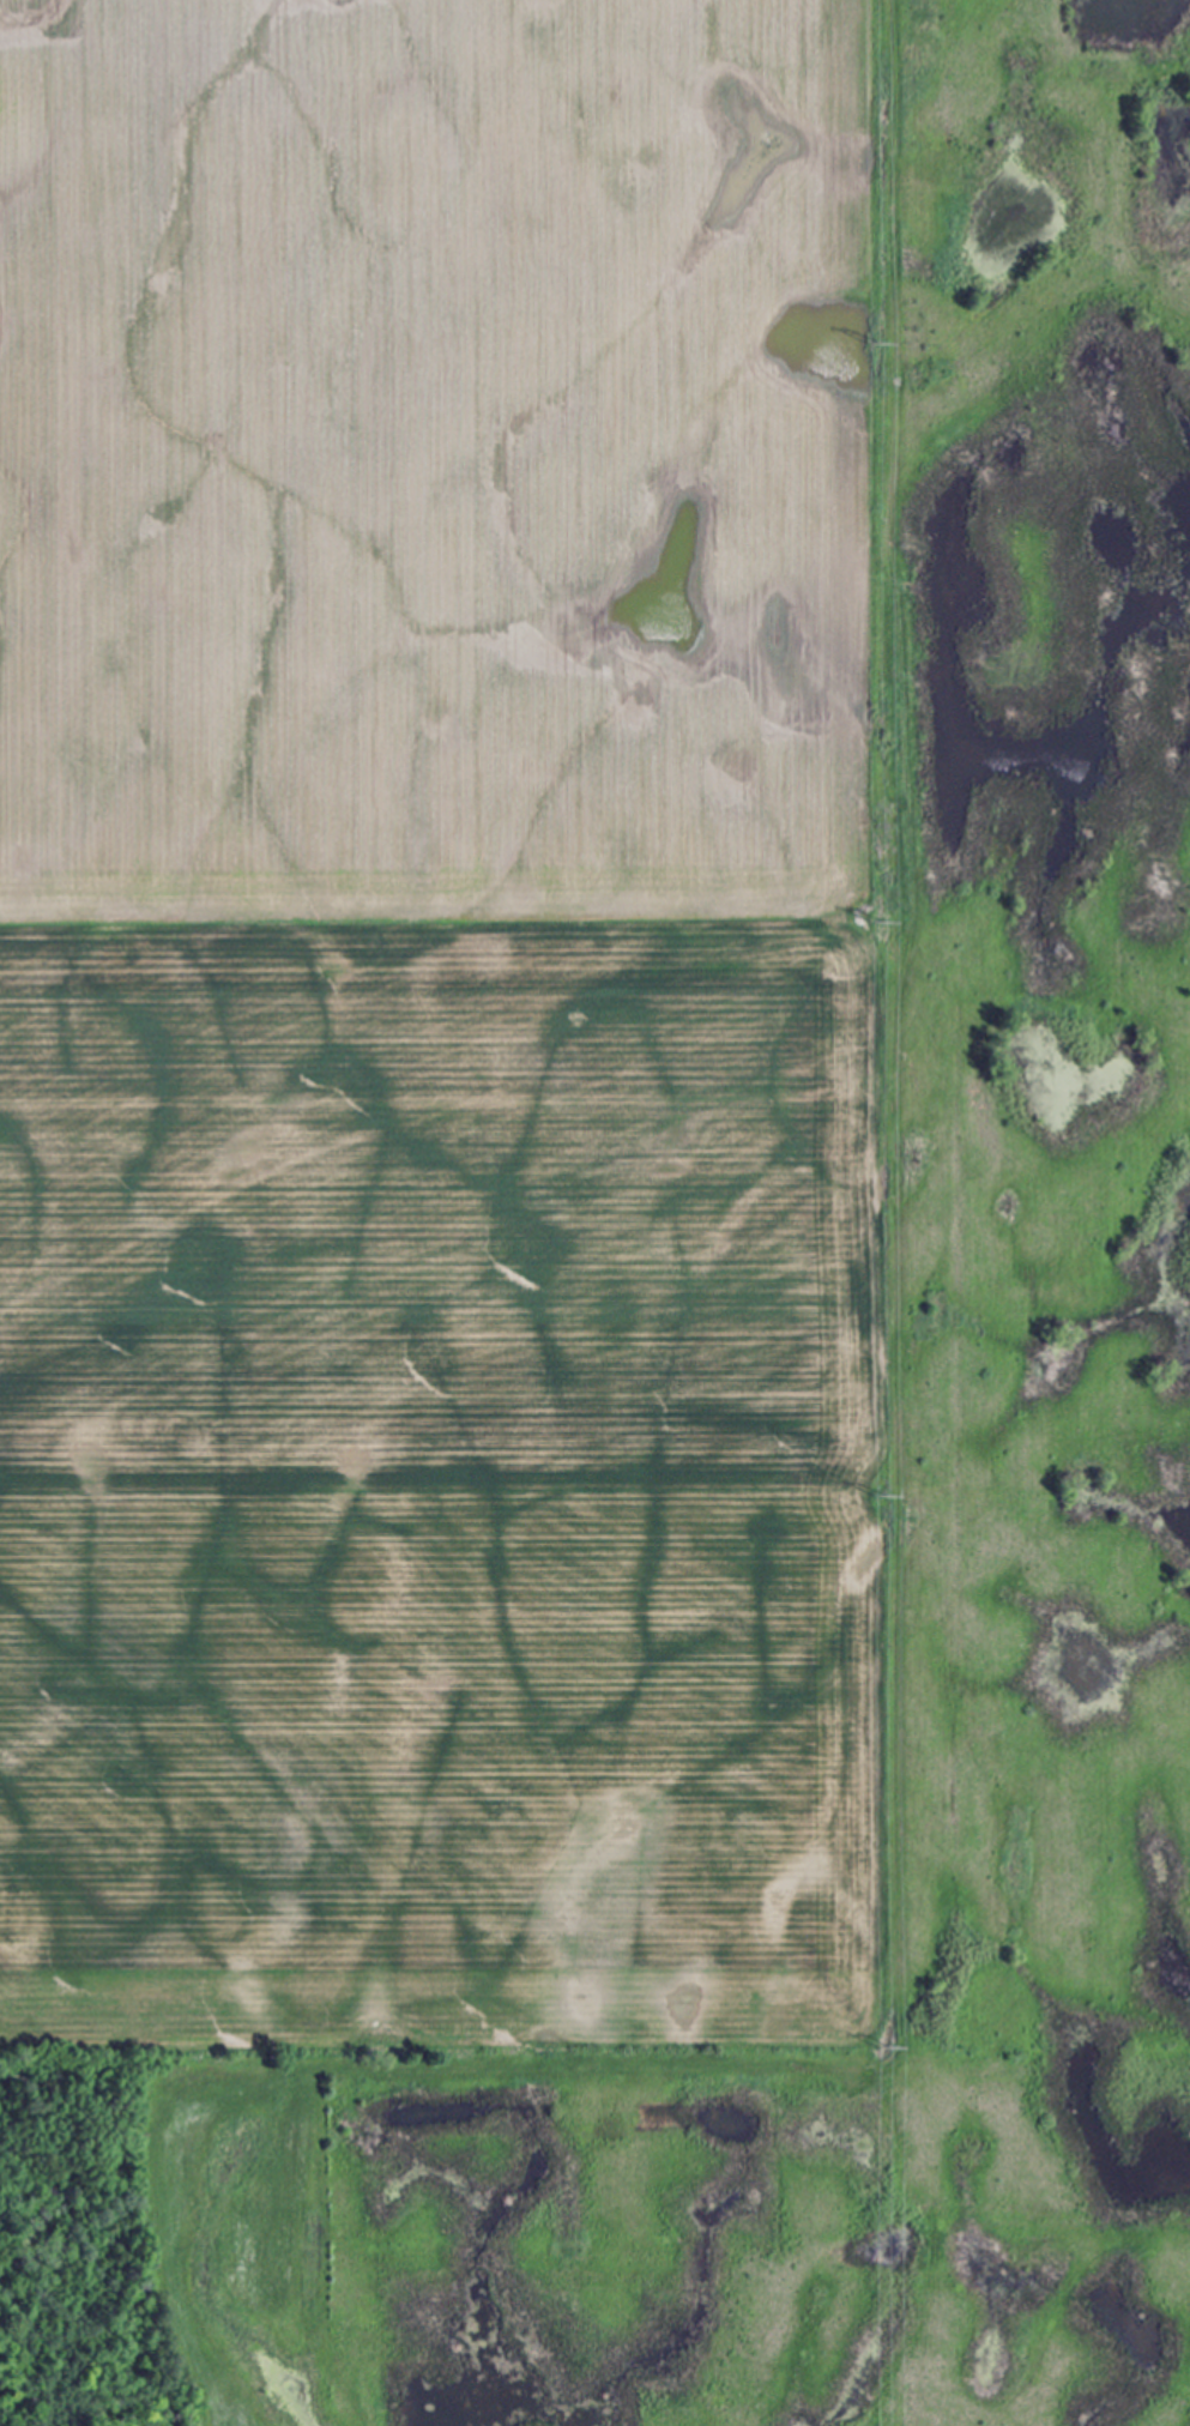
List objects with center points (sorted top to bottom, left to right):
power tower: (878, 339)
power tower: (881, 917)
power tower: (887, 1495)
power tower: (889, 2044)

